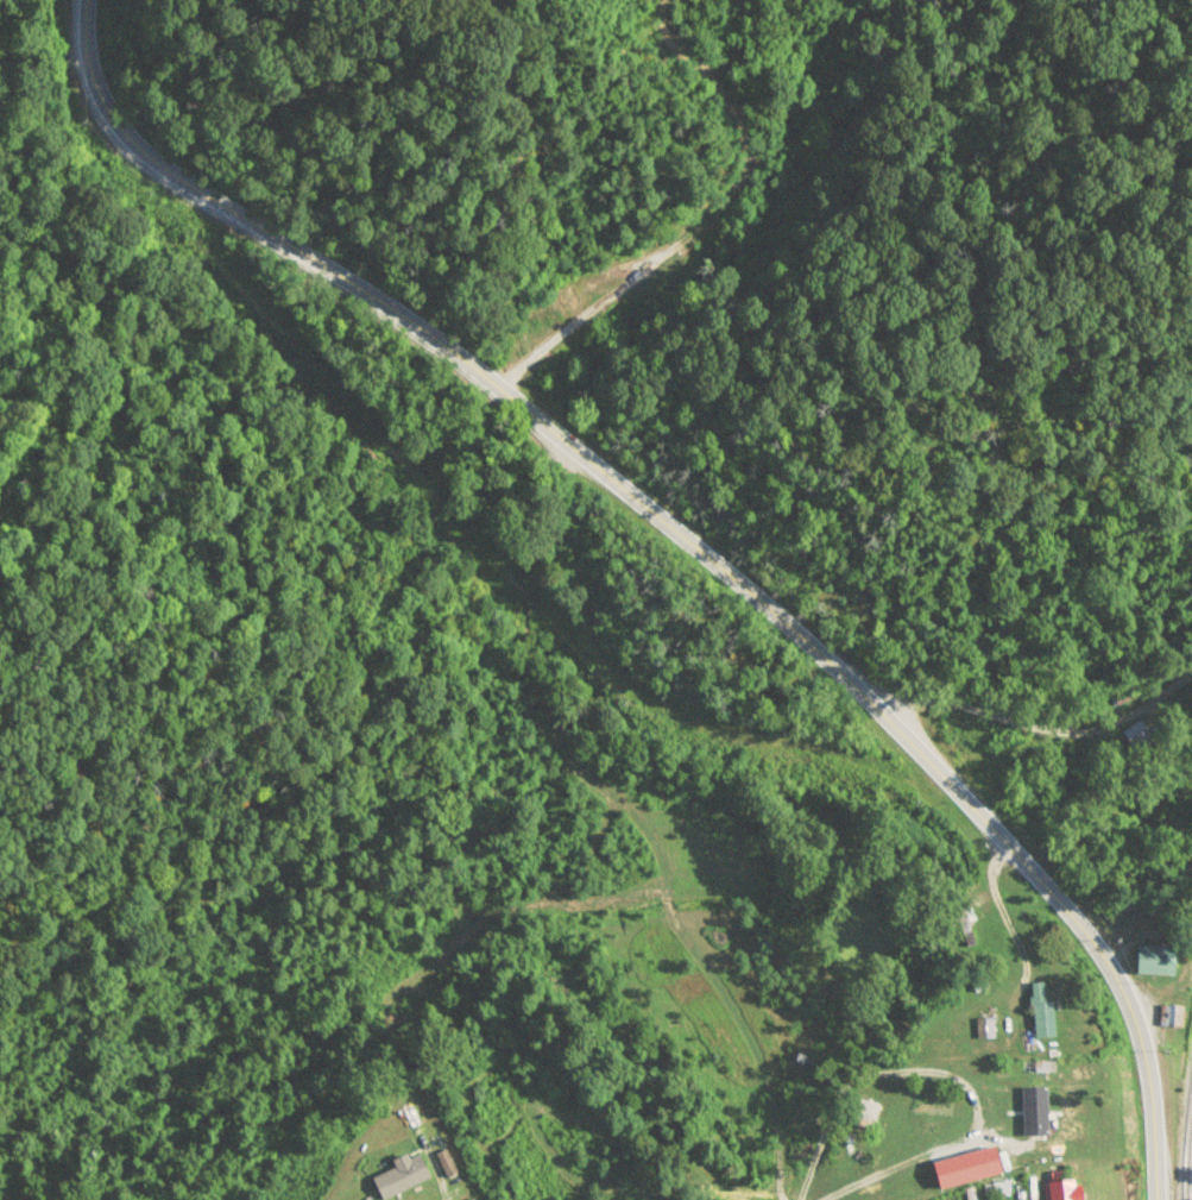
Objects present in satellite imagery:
road: (688, 541)
road: (1045, 728)
building: (1136, 740)
building: (1152, 962)
building: (1036, 1012)
building: (1169, 1018)
building: (983, 1030)
building: (1039, 1070)
building: (1071, 1082)
building: (862, 1116)
railway: (1186, 1141)
road: (853, 1146)
building: (850, 1161)
building: (441, 1164)
building: (1059, 1190)

